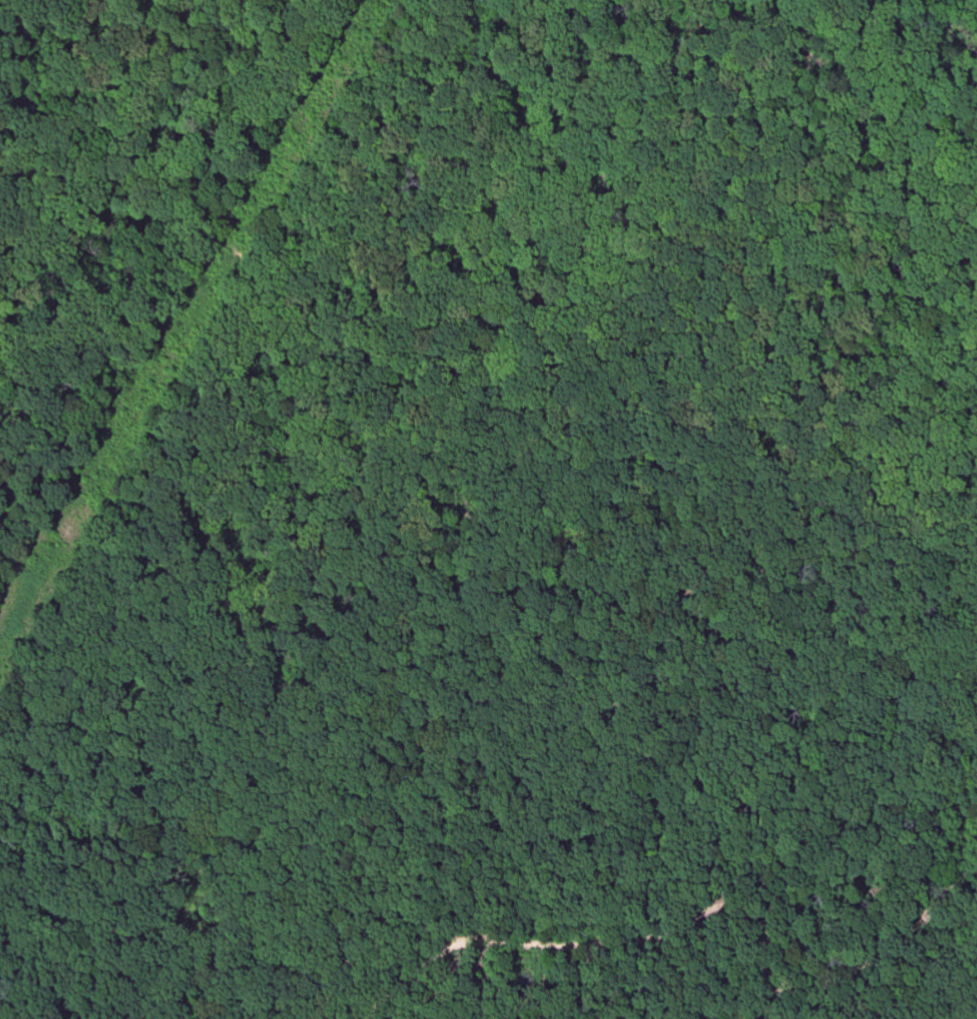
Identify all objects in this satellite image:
road: (704, 914)

